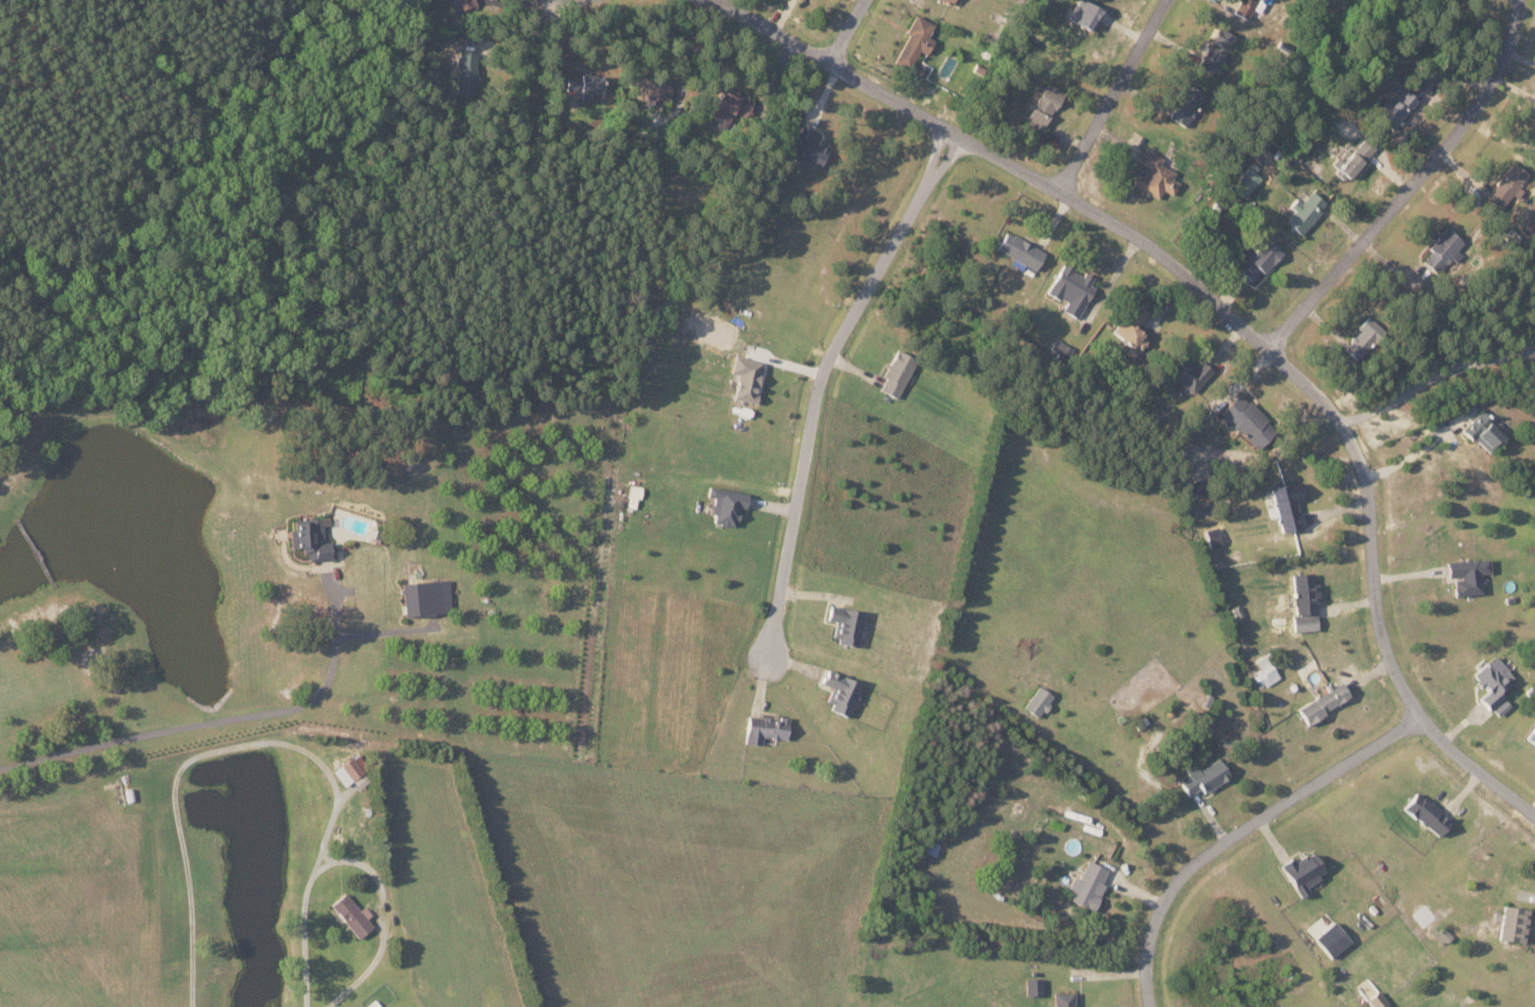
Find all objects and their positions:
road: (568, 0)
building: (949, 1)
building: (463, 4)
building: (1244, 7)
building: (1086, 13)
road: (774, 28)
road: (850, 30)
building: (916, 41)
building: (1216, 51)
building: (466, 72)
building: (583, 83)
building: (654, 87)
road: (1112, 95)
building: (1186, 105)
building: (729, 106)
building: (1044, 106)
building: (1398, 108)
building: (807, 148)
building: (1365, 148)
building: (1348, 163)
building: (1156, 175)
building: (1248, 181)
road: (1412, 182)
building: (1508, 185)
building: (1306, 211)
building: (1443, 249)
building: (1021, 251)
building: (1258, 257)
building: (1072, 289)
road: (1229, 310)
building: (1133, 329)
building: (1365, 337)
building: (1191, 373)
building: (897, 374)
road: (1436, 377)
building: (747, 378)
road: (820, 379)
building: (1249, 421)
building: (1483, 429)
road: (5, 486)
building: (1195, 488)
building: (727, 505)
building: (1288, 506)
building: (1215, 536)
building: (312, 540)
road: (36, 552)
building: (1469, 575)
building: (427, 598)
building: (1306, 602)
building: (1283, 610)
building: (847, 625)
building: (1268, 669)
building: (1495, 684)
building: (842, 693)
building: (1039, 702)
building: (1326, 702)
road: (212, 720)
building: (766, 729)
building: (1532, 736)
road: (258, 744)
road: (1479, 766)
building: (351, 769)
building: (1205, 777)
building: (1428, 814)
road: (1241, 834)
building: (1304, 872)
building: (1089, 885)
building: (352, 915)
road: (383, 922)
building: (1515, 924)
building: (1443, 936)
building: (1333, 940)
building: (1035, 987)
building: (1064, 999)
building: (1378, 1000)

